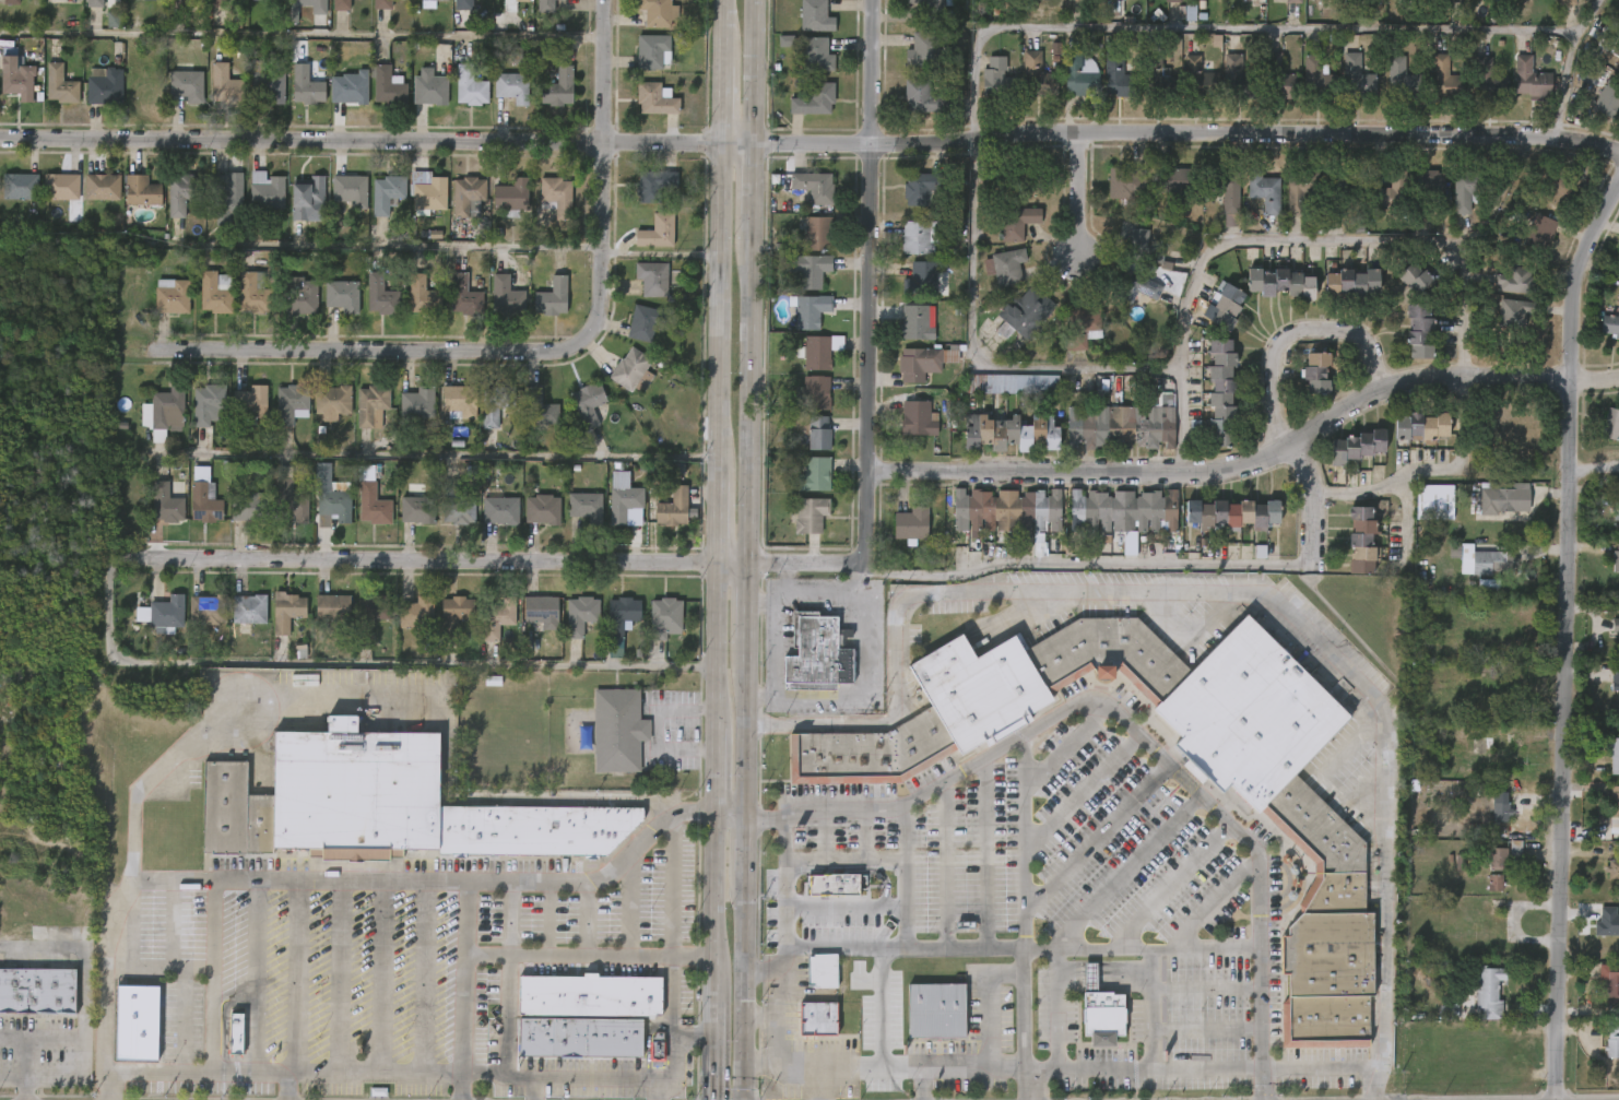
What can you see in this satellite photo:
building: (155, 0)
building: (441, 0)
building: (522, 0)
building: (1031, 0)
building: (1075, 0)
building: (1119, 0)
building: (1174, 0)
building: (1321, 0)
building: (1454, 0)
building: (308, 1)
building: (1290, 1)
building: (1565, 1)
building: (11, 2)
building: (217, 2)
building: (1371, 2)
building: (94, 3)
building: (177, 3)
building: (426, 3)
building: (342, 4)
building: (379, 4)
building: (463, 5)
building: (543, 5)
building: (934, 10)
building: (655, 12)
building: (817, 16)
building: (114, 21)
road: (1221, 23)
road: (302, 35)
building: (785, 40)
building: (1617, 48)
building: (1055, 49)
building: (650, 51)
building: (924, 51)
building: (818, 55)
road: (1565, 62)
building: (1617, 64)
road: (604, 71)
building: (1115, 73)
building: (15, 74)
building: (1078, 74)
building: (1156, 74)
building: (1036, 76)
building: (1197, 76)
building: (1275, 78)
building: (1356, 78)
building: (1531, 78)
building: (305, 79)
building: (1237, 79)
building: (1444, 79)
building: (996, 80)
building: (1316, 80)
building: (1401, 80)
building: (1488, 81)
building: (268, 83)
building: (58, 85)
building: (225, 85)
building: (385, 85)
building: (468, 85)
building: (555, 85)
building: (510, 86)
building: (104, 87)
building: (346, 87)
building: (182, 88)
building: (432, 88)
building: (924, 97)
building: (653, 99)
building: (1608, 99)
building: (815, 100)
road: (809, 144)
building: (1025, 178)
building: (1173, 180)
building: (1124, 184)
building: (652, 186)
building: (20, 187)
building: (61, 187)
building: (102, 187)
building: (811, 187)
building: (924, 188)
building: (1300, 188)
building: (1560, 188)
building: (350, 190)
building: (1426, 190)
building: (1467, 190)
building: (141, 191)
building: (265, 191)
building: (1263, 191)
building: (1343, 191)
building: (388, 192)
building: (426, 192)
building: (1388, 192)
building: (1225, 193)
building: (181, 194)
building: (464, 194)
road: (1077, 194)
building: (509, 196)
building: (224, 197)
building: (554, 197)
building: (308, 200)
building: (1015, 222)
building: (654, 232)
building: (814, 232)
building: (1539, 233)
building: (1618, 233)
road: (867, 234)
building: (918, 237)
road: (1402, 240)
road: (390, 245)
building: (1139, 246)
road: (1603, 265)
building: (1003, 267)
building: (806, 269)
building: (1417, 275)
building: (650, 277)
building: (924, 280)
building: (1284, 281)
building: (1515, 281)
building: (1355, 282)
building: (1132, 287)
building: (213, 293)
building: (250, 295)
building: (339, 295)
building: (419, 295)
building: (169, 296)
building: (296, 296)
building: (378, 296)
building: (461, 296)
building: (504, 296)
building: (548, 298)
building: (1229, 304)
building: (808, 310)
building: (1512, 312)
building: (1021, 314)
building: (642, 322)
building: (915, 322)
building: (1608, 323)
building: (1078, 327)
road: (1299, 329)
building: (1422, 330)
road: (475, 350)
road: (972, 352)
building: (813, 353)
building: (921, 363)
building: (630, 371)
building: (1319, 371)
building: (1009, 385)
building: (1224, 391)
building: (814, 393)
building: (330, 401)
building: (456, 402)
building: (204, 403)
building: (291, 403)
building: (586, 403)
building: (247, 404)
building: (416, 404)
building: (493, 404)
building: (369, 405)
building: (536, 409)
building: (164, 412)
building: (917, 418)
building: (1610, 425)
building: (1121, 427)
building: (1420, 427)
building: (1006, 433)
building: (817, 434)
building: (1356, 447)
road: (417, 456)
road: (1251, 462)
road: (1596, 466)
building: (674, 469)
building: (813, 475)
building: (286, 497)
building: (201, 498)
building: (1503, 499)
road: (1310, 501)
building: (331, 502)
building: (1433, 502)
building: (163, 504)
building: (621, 504)
building: (1616, 505)
building: (370, 506)
building: (454, 506)
building: (247, 507)
building: (583, 507)
building: (415, 509)
building: (497, 509)
building: (671, 509)
building: (540, 510)
building: (1005, 510)
building: (1121, 511)
building: (1234, 513)
building: (808, 516)
road: (1407, 516)
building: (909, 525)
building: (1366, 540)
road: (710, 549)
road: (746, 549)
road: (548, 560)
building: (1616, 560)
building: (1493, 563)
road: (783, 577)
road: (792, 589)
building: (1488, 589)
road: (1210, 592)
building: (246, 610)
building: (333, 610)
building: (204, 611)
building: (287, 612)
building: (539, 612)
building: (418, 613)
building: (456, 613)
building: (164, 614)
building: (370, 614)
building: (578, 615)
building: (498, 617)
building: (662, 618)
building: (618, 623)
building: (1616, 625)
road: (1570, 642)
road: (773, 651)
building: (1108, 654)
building: (813, 655)
road: (348, 664)
building: (1617, 671)
building: (1616, 685)
road: (865, 687)
building: (979, 687)
road: (1097, 698)
building: (1249, 713)
building: (616, 729)
road: (1068, 745)
building: (870, 753)
building: (1615, 754)
road: (1083, 791)
building: (355, 792)
building: (1615, 802)
building: (1500, 806)
road: (819, 811)
building: (235, 812)
road: (133, 813)
road: (726, 815)
building: (534, 830)
road: (866, 833)
road: (824, 835)
road: (783, 838)
road: (1098, 838)
road: (1024, 841)
building: (1514, 850)
road: (984, 853)
road: (844, 859)
building: (1497, 859)
building: (1458, 863)
road: (945, 865)
building: (1612, 870)
road: (1125, 872)
road: (298, 879)
road: (501, 880)
building: (1494, 883)
building: (834, 885)
road: (1170, 885)
road: (673, 886)
road: (629, 901)
road: (1212, 903)
road: (844, 909)
road: (510, 918)
road: (546, 918)
road: (586, 918)
road: (172, 923)
building: (1615, 923)
building: (1327, 927)
road: (849, 947)
road: (1014, 949)
road: (586, 956)
road: (158, 966)
road: (764, 967)
building: (824, 971)
road: (211, 975)
building: (1089, 975)
road: (256, 977)
road: (339, 977)
road: (1260, 977)
road: (380, 978)
road: (423, 978)
building: (1612, 981)
road: (1205, 987)
building: (37, 991)
building: (591, 996)
road: (783, 996)
road: (82, 997)
building: (1479, 998)
road: (1055, 1008)
road: (1150, 1009)
building: (935, 1010)
road: (672, 1013)
road: (504, 1016)
road: (763, 1016)
building: (1102, 1016)
building: (819, 1018)
road: (181, 1020)
building: (137, 1022)
road: (1024, 1025)
road: (881, 1028)
road: (1205, 1029)
building: (236, 1033)
road: (55, 1037)
building: (580, 1039)
road: (27, 1043)
building: (1614, 1043)
building: (657, 1046)
road: (763, 1057)
road: (835, 1057)
road: (1021, 1069)
road: (1277, 1069)
road: (673, 1072)
road: (210, 1073)
road: (288, 1075)
road: (558, 1077)
road: (13, 1079)
road: (27, 1089)

